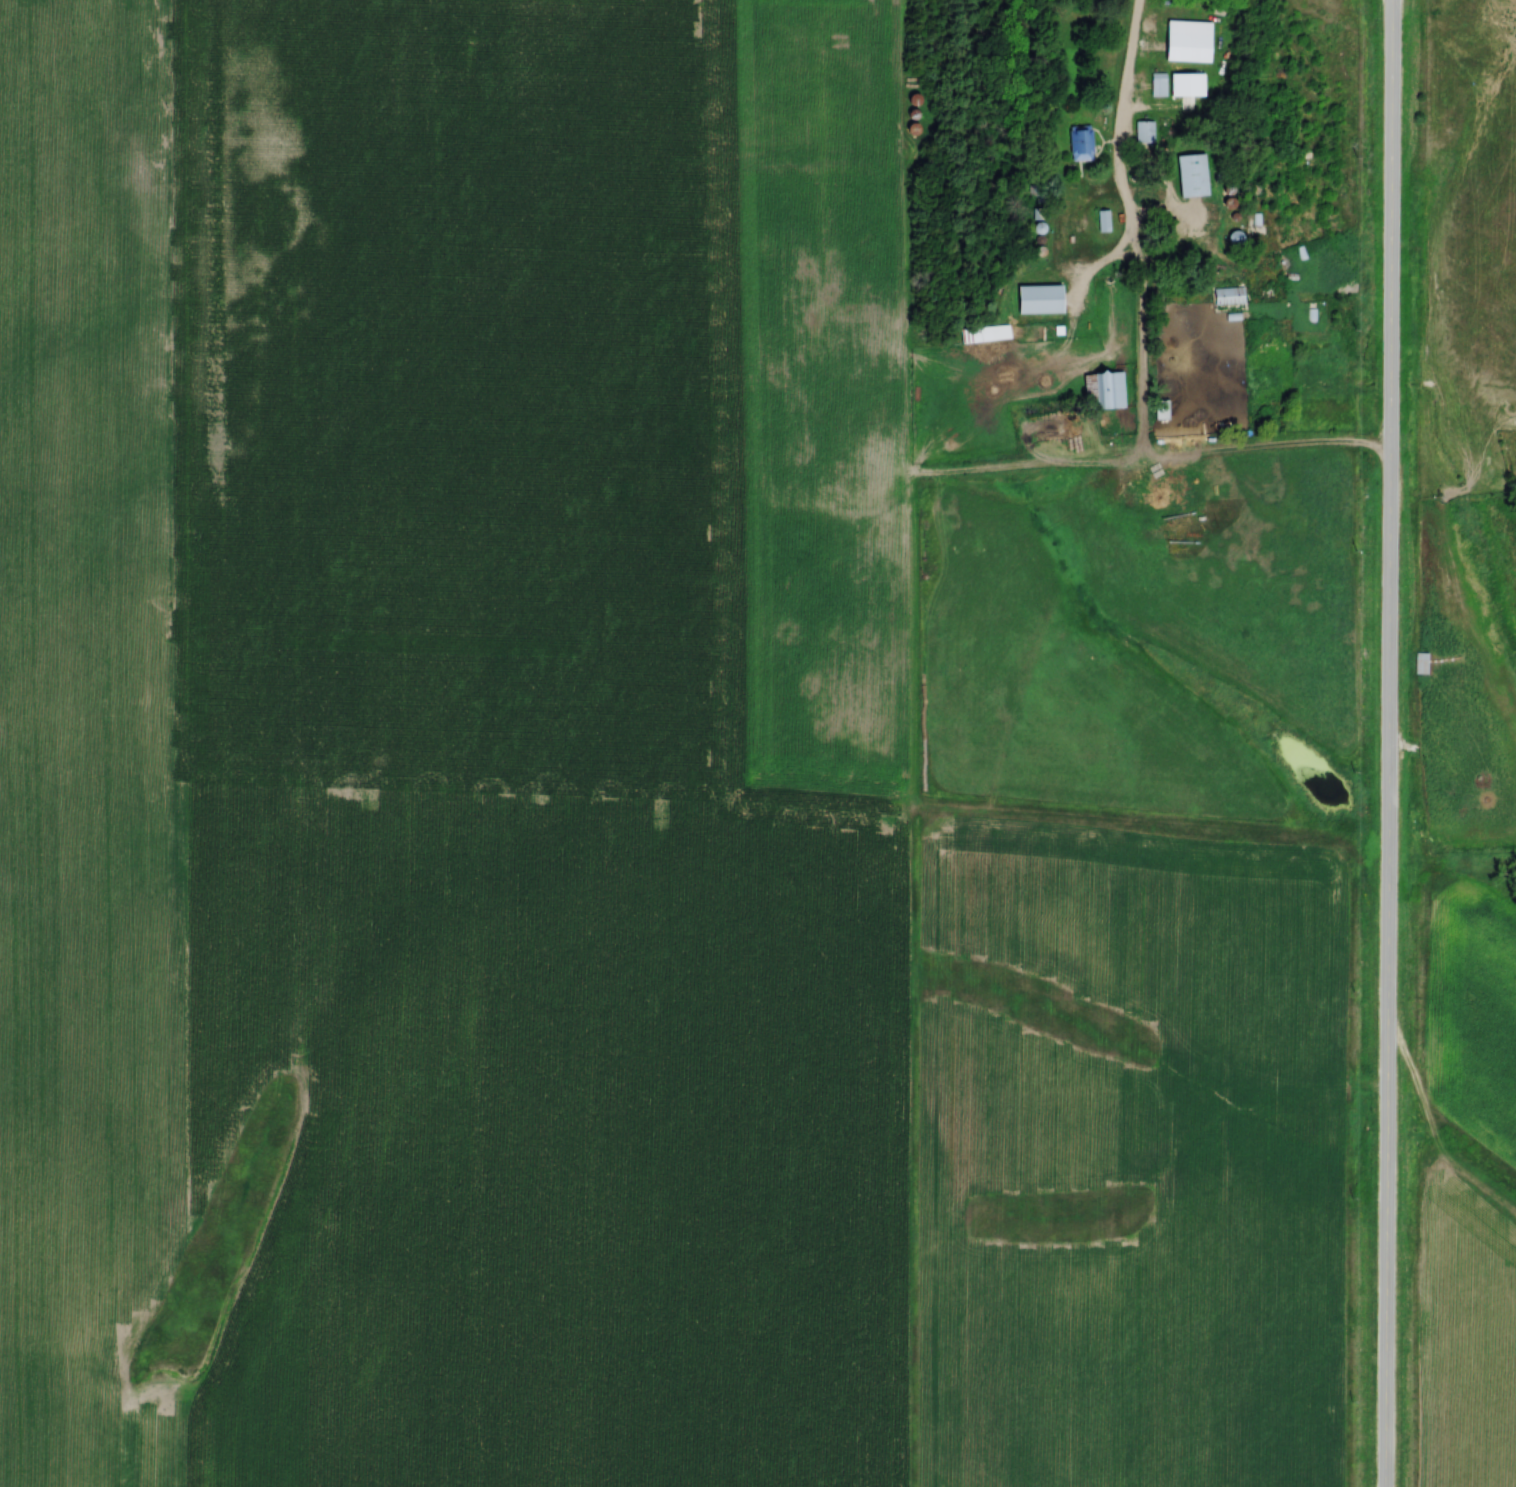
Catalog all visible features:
building: (1157, 84)
building: (1148, 131)
building: (1080, 142)
building: (1190, 173)
building: (1227, 295)
building: (1035, 298)
building: (989, 333)
road: (1143, 352)
building: (1107, 389)
building: (1159, 409)
building: (1420, 662)
road: (1388, 743)

